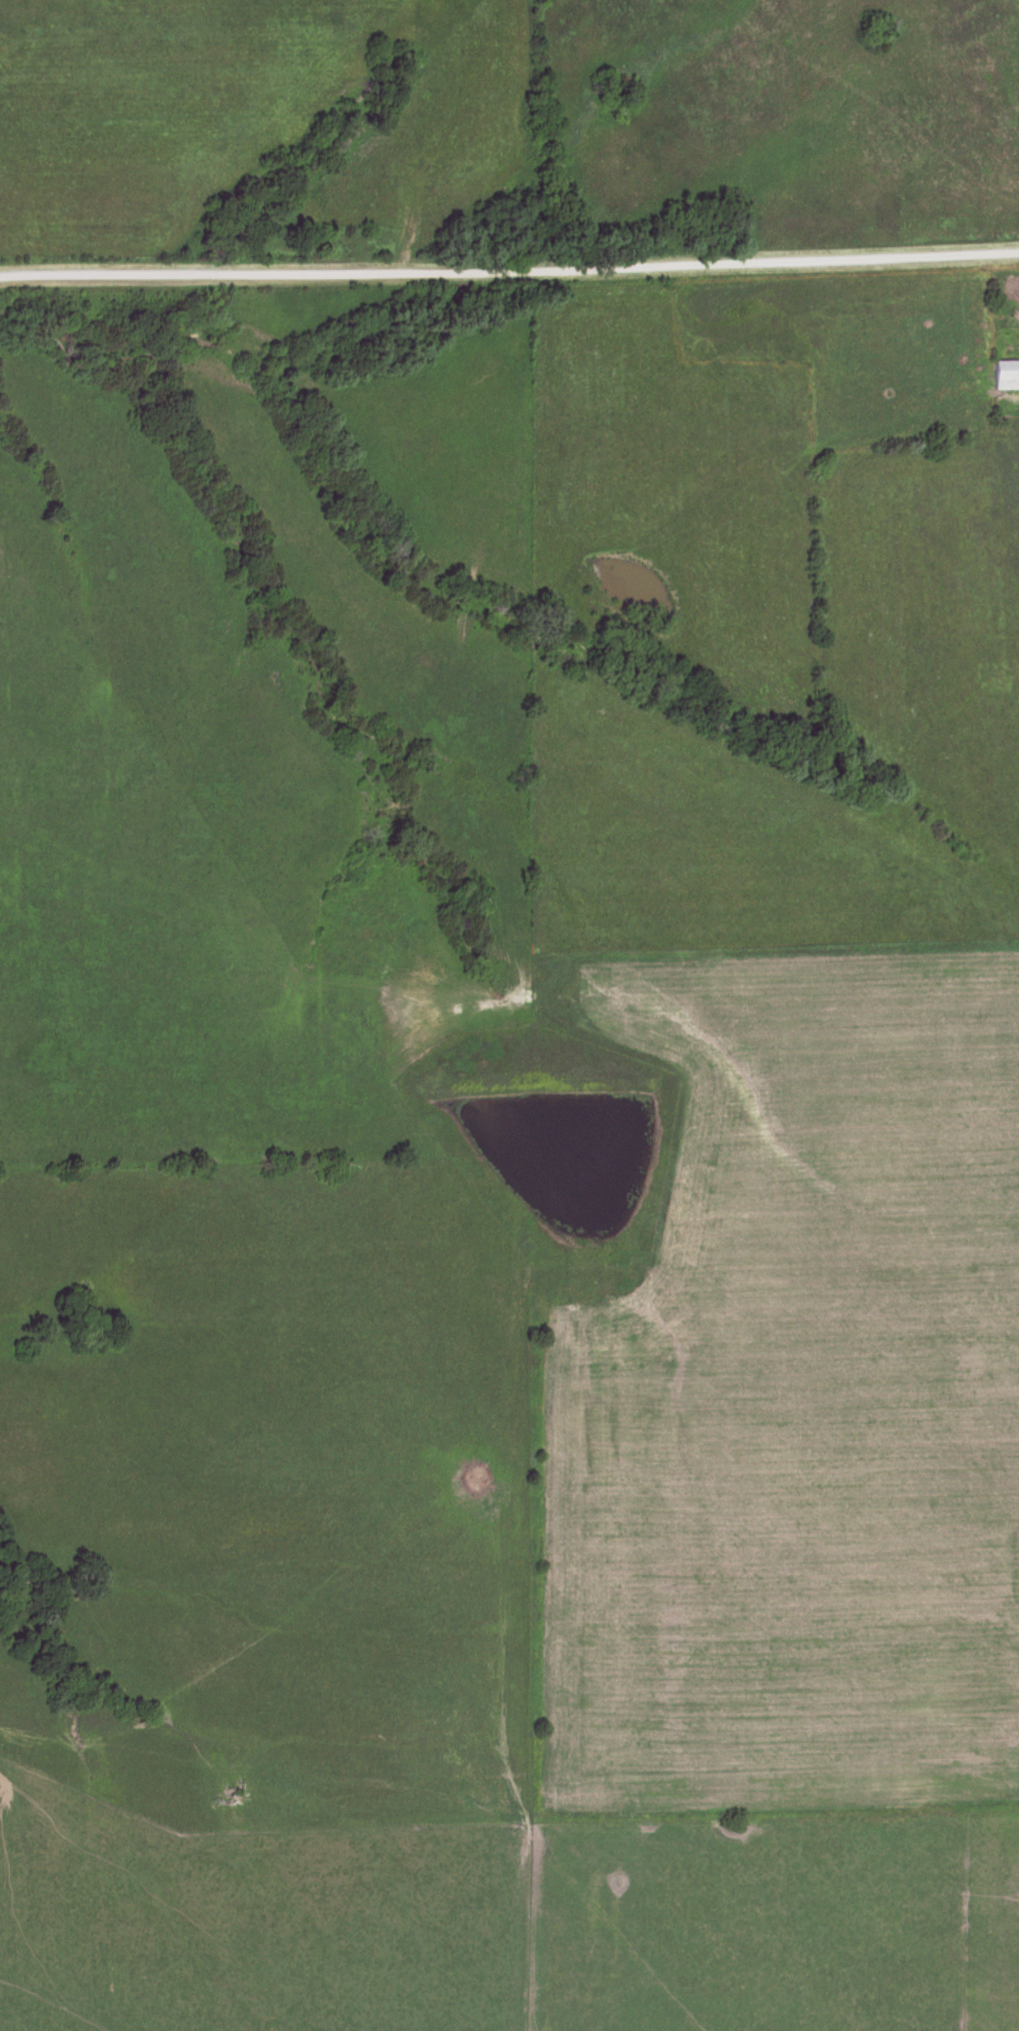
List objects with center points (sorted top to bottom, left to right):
road: (509, 267)
building: (1005, 375)

